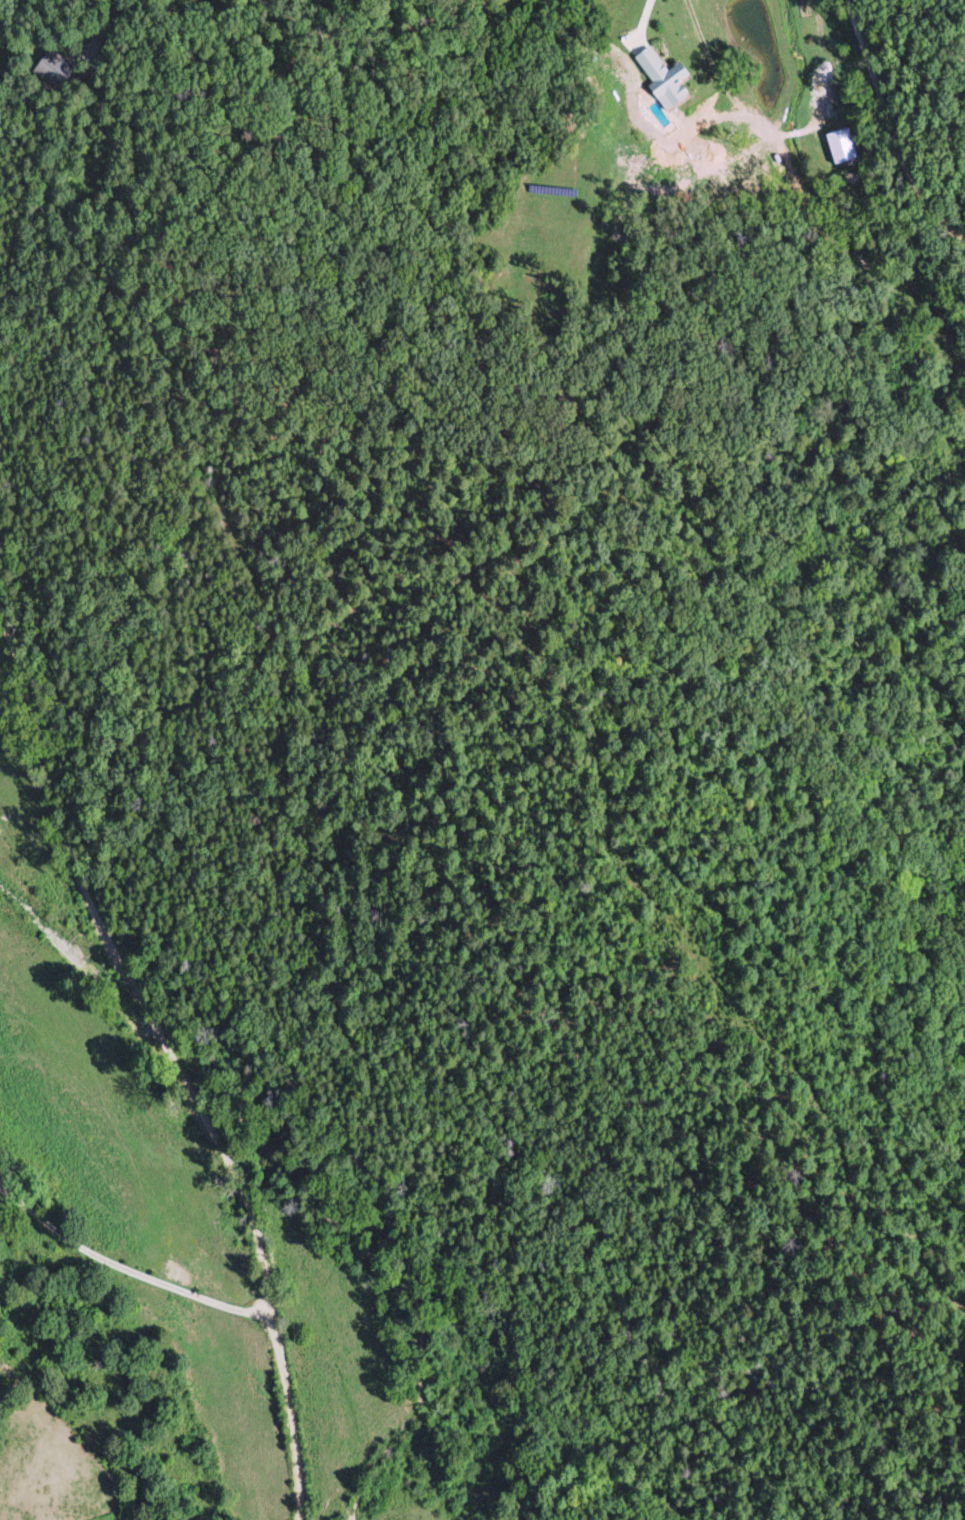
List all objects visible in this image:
road: (238, 44)
building: (676, 76)
building: (841, 143)
road: (856, 146)
road: (819, 246)
road: (51, 922)
road: (191, 1040)
road: (125, 1270)

